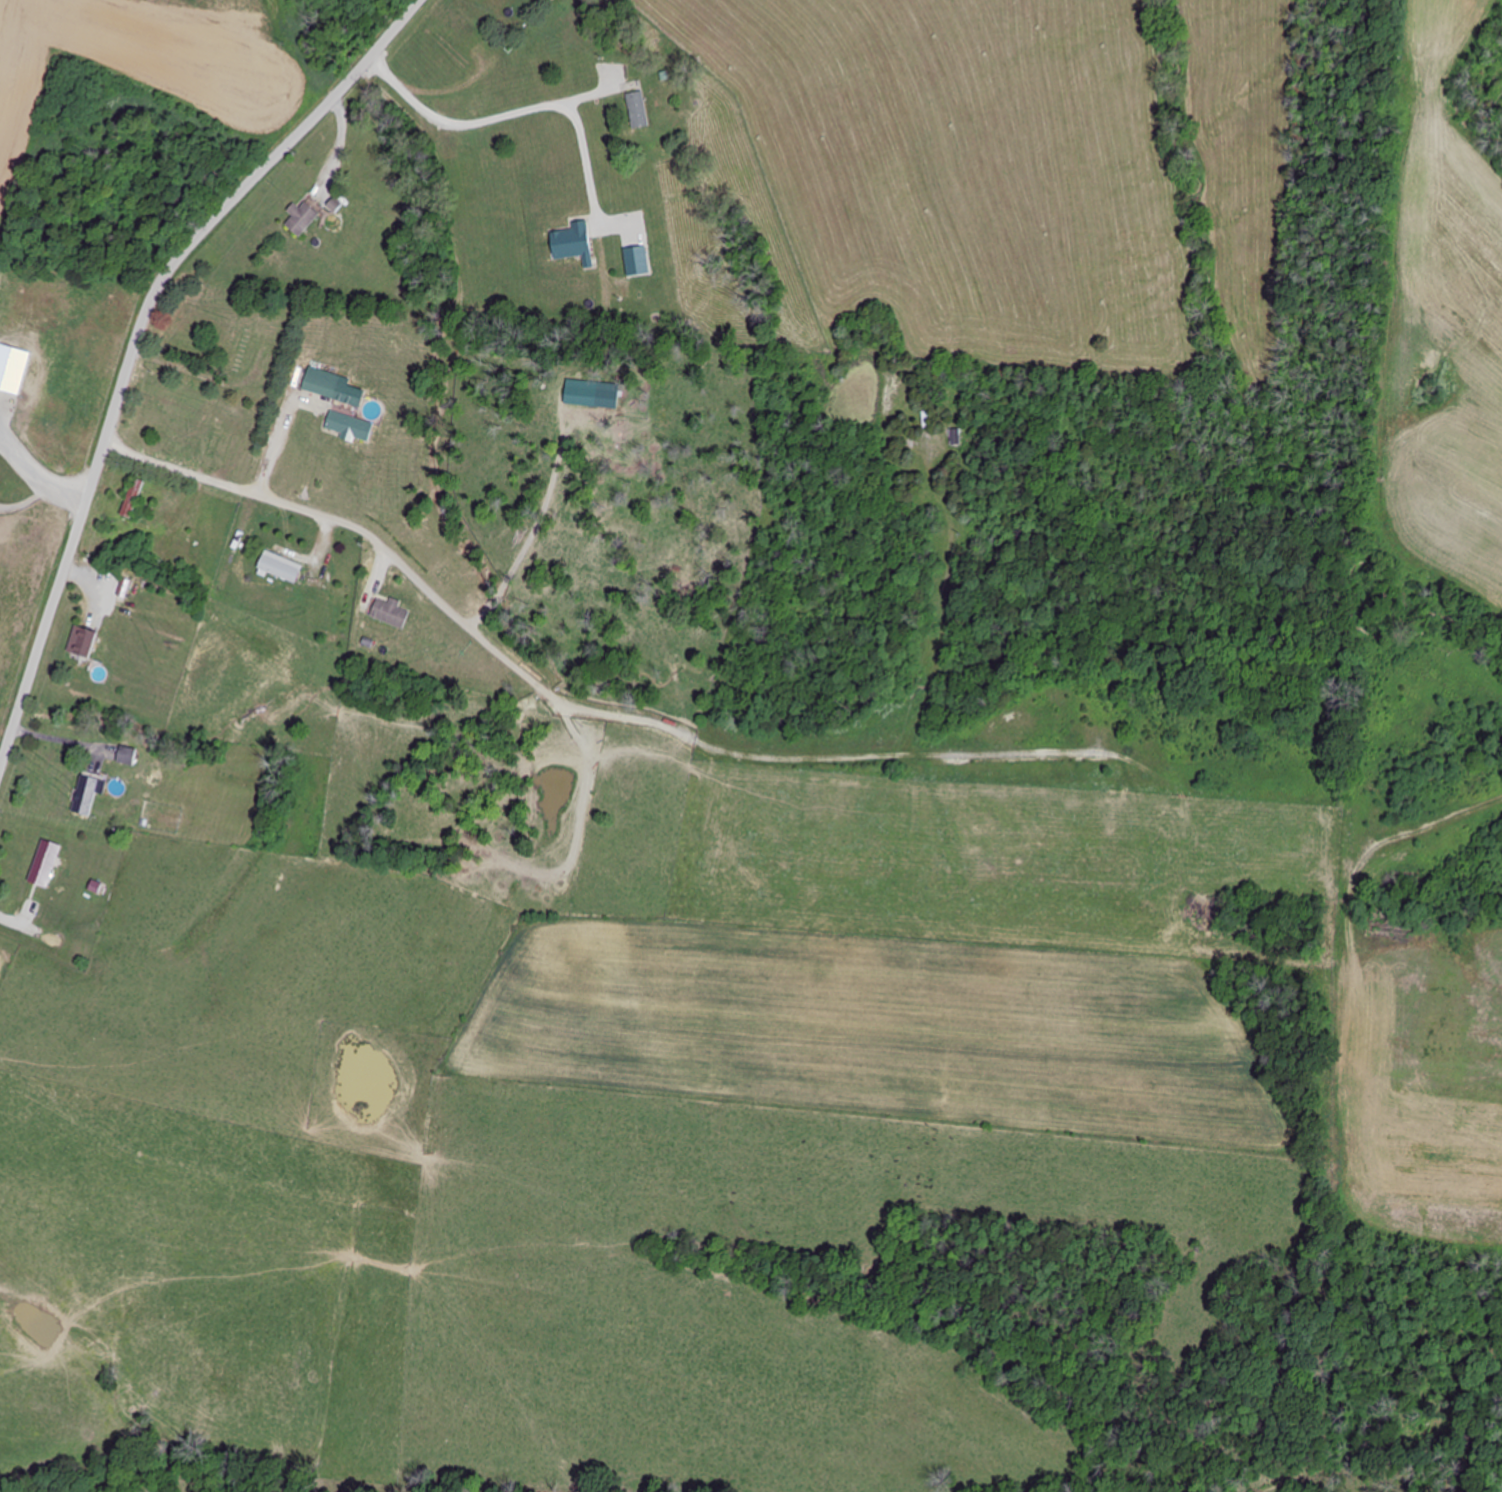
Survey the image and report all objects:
building: (452, 51)
building: (640, 110)
building: (304, 218)
building: (579, 290)
road: (137, 340)
building: (243, 351)
building: (5, 386)
building: (336, 387)
building: (352, 426)
building: (216, 435)
building: (942, 455)
building: (134, 498)
building: (283, 567)
building: (392, 613)
building: (85, 643)
building: (128, 756)
building: (87, 796)
building: (50, 865)

